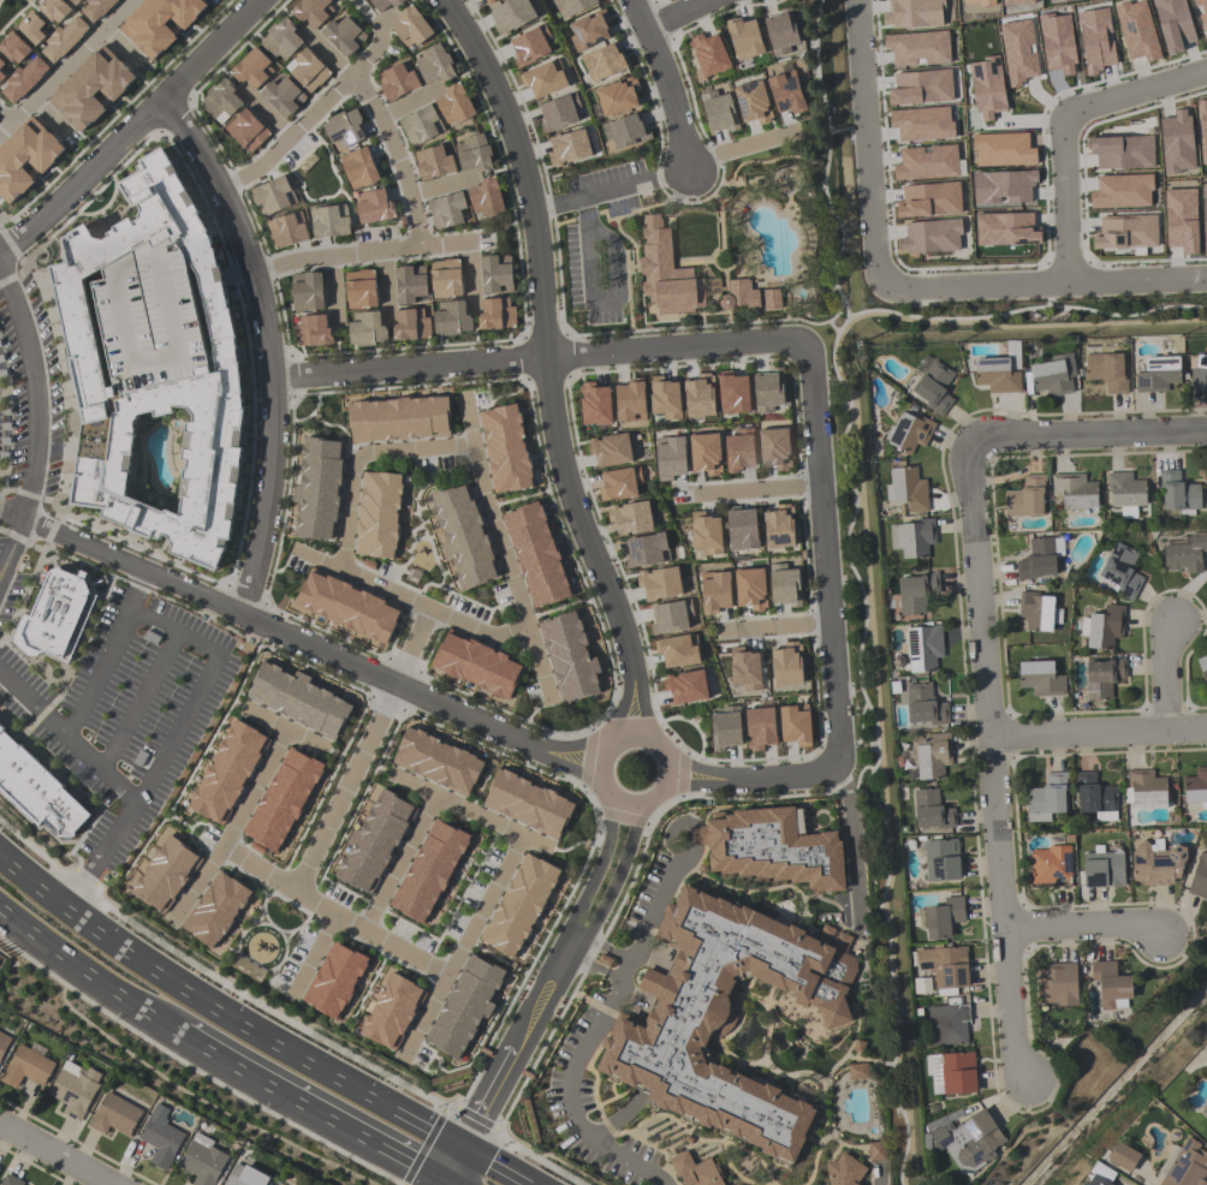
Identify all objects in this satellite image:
building: (339, 0)
building: (75, 1)
building: (489, 1)
building: (980, 1)
building: (1016, 1)
building: (1059, 1)
building: (383, 4)
building: (572, 6)
building: (96, 8)
building: (54, 10)
building: (311, 11)
building: (1201, 12)
road: (671, 13)
building: (912, 13)
building: (511, 16)
road: (370, 19)
building: (159, 23)
building: (1173, 24)
building: (31, 28)
building: (411, 28)
building: (589, 30)
building: (1137, 30)
building: (781, 31)
building: (344, 35)
building: (64, 38)
building: (744, 38)
building: (281, 40)
building: (1096, 40)
building: (1057, 43)
road: (118, 44)
building: (530, 46)
building: (13, 48)
building: (917, 48)
building: (1018, 52)
building: (708, 55)
building: (603, 62)
building: (1, 64)
building: (434, 64)
road: (65, 66)
building: (252, 69)
building: (308, 70)
building: (2, 73)
building: (24, 79)
building: (545, 79)
building: (397, 82)
road: (668, 85)
building: (90, 88)
building: (921, 88)
building: (987, 88)
building: (785, 93)
building: (284, 96)
building: (618, 96)
building: (221, 101)
building: (753, 102)
road: (406, 103)
building: (454, 105)
building: (718, 112)
road: (266, 113)
building: (559, 113)
road: (5, 118)
road: (47, 118)
road: (304, 121)
building: (922, 123)
road: (1064, 124)
road: (382, 125)
building: (421, 125)
building: (344, 130)
building: (1203, 130)
building: (246, 131)
building: (626, 131)
road: (131, 132)
road: (867, 141)
building: (1177, 142)
road: (745, 145)
building: (569, 148)
building: (1003, 149)
building: (1122, 151)
building: (474, 153)
building: (25, 159)
building: (433, 162)
building: (927, 163)
building: (358, 168)
road: (442, 184)
building: (1003, 186)
road: (610, 190)
building: (1122, 191)
building: (273, 196)
building: (486, 197)
building: (929, 200)
building: (374, 207)
building: (446, 209)
building: (1203, 215)
building: (1181, 220)
building: (329, 221)
building: (286, 230)
building: (1006, 230)
building: (1126, 232)
building: (930, 237)
road: (358, 250)
building: (666, 273)
building: (495, 274)
road: (469, 275)
building: (445, 279)
road: (1041, 282)
road: (383, 284)
building: (410, 284)
road: (332, 287)
building: (361, 290)
building: (307, 291)
building: (739, 294)
building: (772, 298)
road: (599, 300)
building: (497, 314)
building: (451, 318)
road: (840, 320)
building: (411, 324)
building: (365, 329)
building: (313, 331)
road: (266, 347)
road: (534, 359)
building: (154, 362)
road: (545, 365)
building: (1106, 371)
building: (1200, 373)
building: (1157, 374)
building: (995, 375)
building: (1054, 375)
building: (934, 387)
building: (768, 391)
building: (733, 393)
building: (698, 397)
building: (665, 398)
building: (630, 401)
building: (595, 405)
road: (35, 418)
building: (398, 419)
road: (468, 423)
building: (909, 433)
road: (1094, 434)
building: (774, 448)
building: (505, 449)
building: (611, 449)
building: (739, 451)
building: (704, 453)
building: (670, 458)
building: (619, 484)
building: (319, 489)
road: (759, 489)
building: (906, 489)
building: (1075, 490)
building: (1126, 493)
building: (1179, 494)
building: (1025, 498)
road: (349, 501)
road: (11, 512)
building: (379, 516)
building: (630, 518)
building: (779, 528)
building: (742, 529)
building: (706, 534)
building: (464, 536)
building: (912, 537)
building: (647, 550)
building: (1185, 554)
building: (536, 555)
road: (822, 555)
road: (319, 560)
building: (1037, 560)
building: (1122, 571)
building: (660, 583)
building: (784, 585)
road: (516, 588)
building: (750, 589)
building: (714, 592)
building: (916, 592)
building: (347, 606)
building: (1039, 612)
building: (57, 614)
building: (671, 617)
road: (775, 626)
building: (1102, 627)
building: (149, 637)
road: (309, 645)
road: (410, 647)
building: (923, 648)
building: (677, 650)
road: (106, 654)
building: (570, 657)
road: (540, 662)
building: (477, 665)
building: (787, 666)
building: (1202, 668)
building: (744, 669)
building: (1040, 678)
building: (1104, 678)
road: (1170, 679)
road: (201, 684)
building: (686, 687)
road: (138, 699)
building: (298, 699)
building: (924, 705)
building: (796, 725)
building: (761, 726)
road: (286, 728)
building: (726, 728)
road: (1099, 736)
building: (930, 756)
road: (992, 756)
building: (142, 758)
building: (436, 762)
road: (601, 762)
building: (227, 774)
road: (751, 780)
road: (115, 781)
building: (36, 788)
road: (344, 788)
building: (1196, 788)
building: (1146, 791)
building: (1095, 797)
building: (1047, 798)
building: (283, 800)
building: (528, 804)
building: (932, 810)
road: (469, 811)
road: (232, 826)
building: (374, 842)
road: (856, 844)
building: (772, 850)
building: (941, 861)
building: (1157, 863)
road: (399, 864)
building: (1051, 867)
building: (1102, 868)
building: (429, 871)
building: (165, 875)
building: (1199, 877)
road: (32, 887)
road: (660, 905)
building: (519, 907)
building: (215, 911)
road: (332, 915)
building: (944, 918)
road: (1084, 928)
road: (578, 933)
road: (463, 945)
road: (610, 948)
road: (566, 953)
road: (314, 954)
road: (90, 967)
building: (945, 967)
road: (599, 969)
road: (629, 970)
road: (543, 976)
building: (334, 981)
road: (560, 982)
building: (1057, 985)
building: (1111, 985)
building: (465, 1007)
building: (392, 1012)
building: (726, 1018)
building: (947, 1025)
road: (250, 1034)
building: (4, 1044)
building: (26, 1068)
building: (857, 1072)
building: (955, 1073)
building: (73, 1090)
road: (307, 1098)
road: (569, 1098)
building: (1205, 1113)
building: (113, 1115)
building: (160, 1137)
building: (968, 1141)
traffic signals: (446, 1142)
road: (458, 1149)
building: (876, 1151)
road: (57, 1153)
road: (439, 1155)
traffic signals: (470, 1156)
building: (1124, 1157)
building: (202, 1161)
building: (1187, 1166)
traffic signals: (432, 1168)
road: (463, 1168)
road: (495, 1171)
building: (695, 1171)
building: (844, 1172)
road: (444, 1174)
building: (245, 1177)
building: (10, 1180)
traffic signals: (456, 1181)
road: (878, 1181)
building: (1098, 1181)
road: (458, 1183)
building: (754, 1184)

